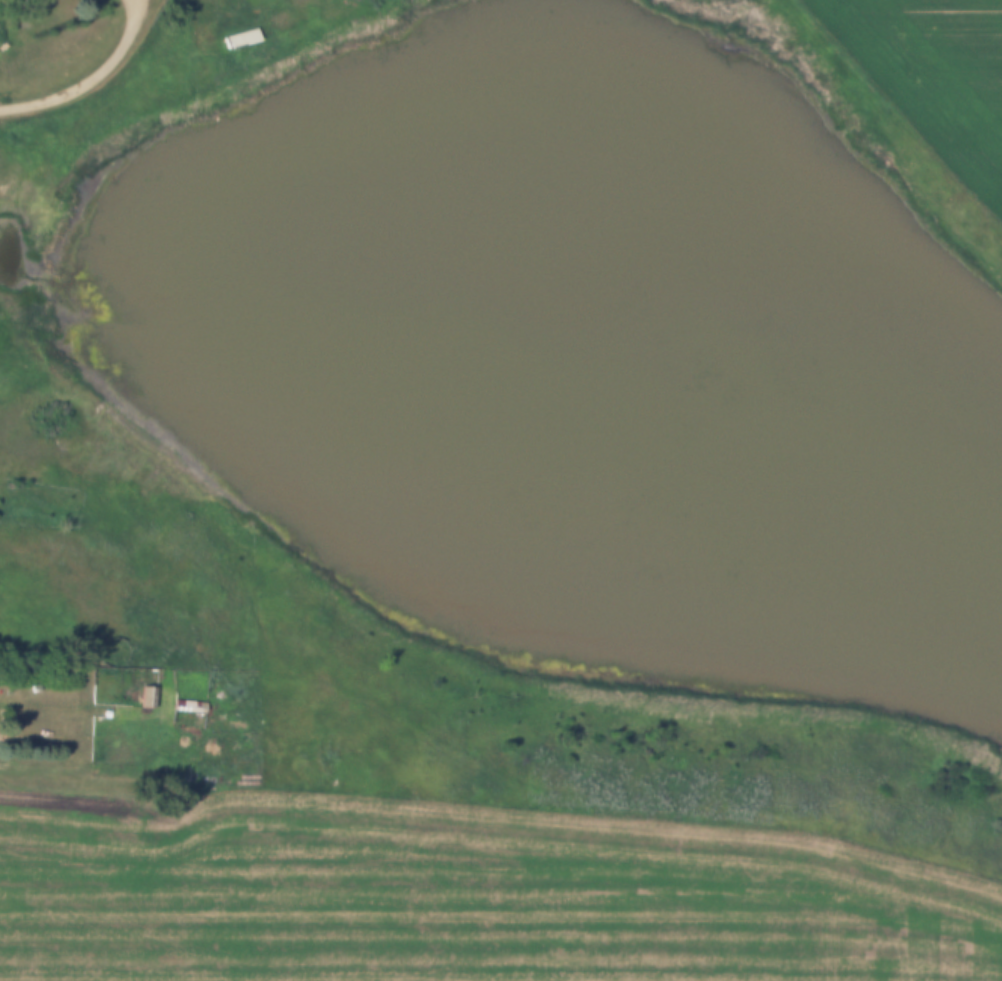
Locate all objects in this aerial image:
building: (242, 38)
road: (89, 78)
building: (189, 707)
building: (294, 801)

